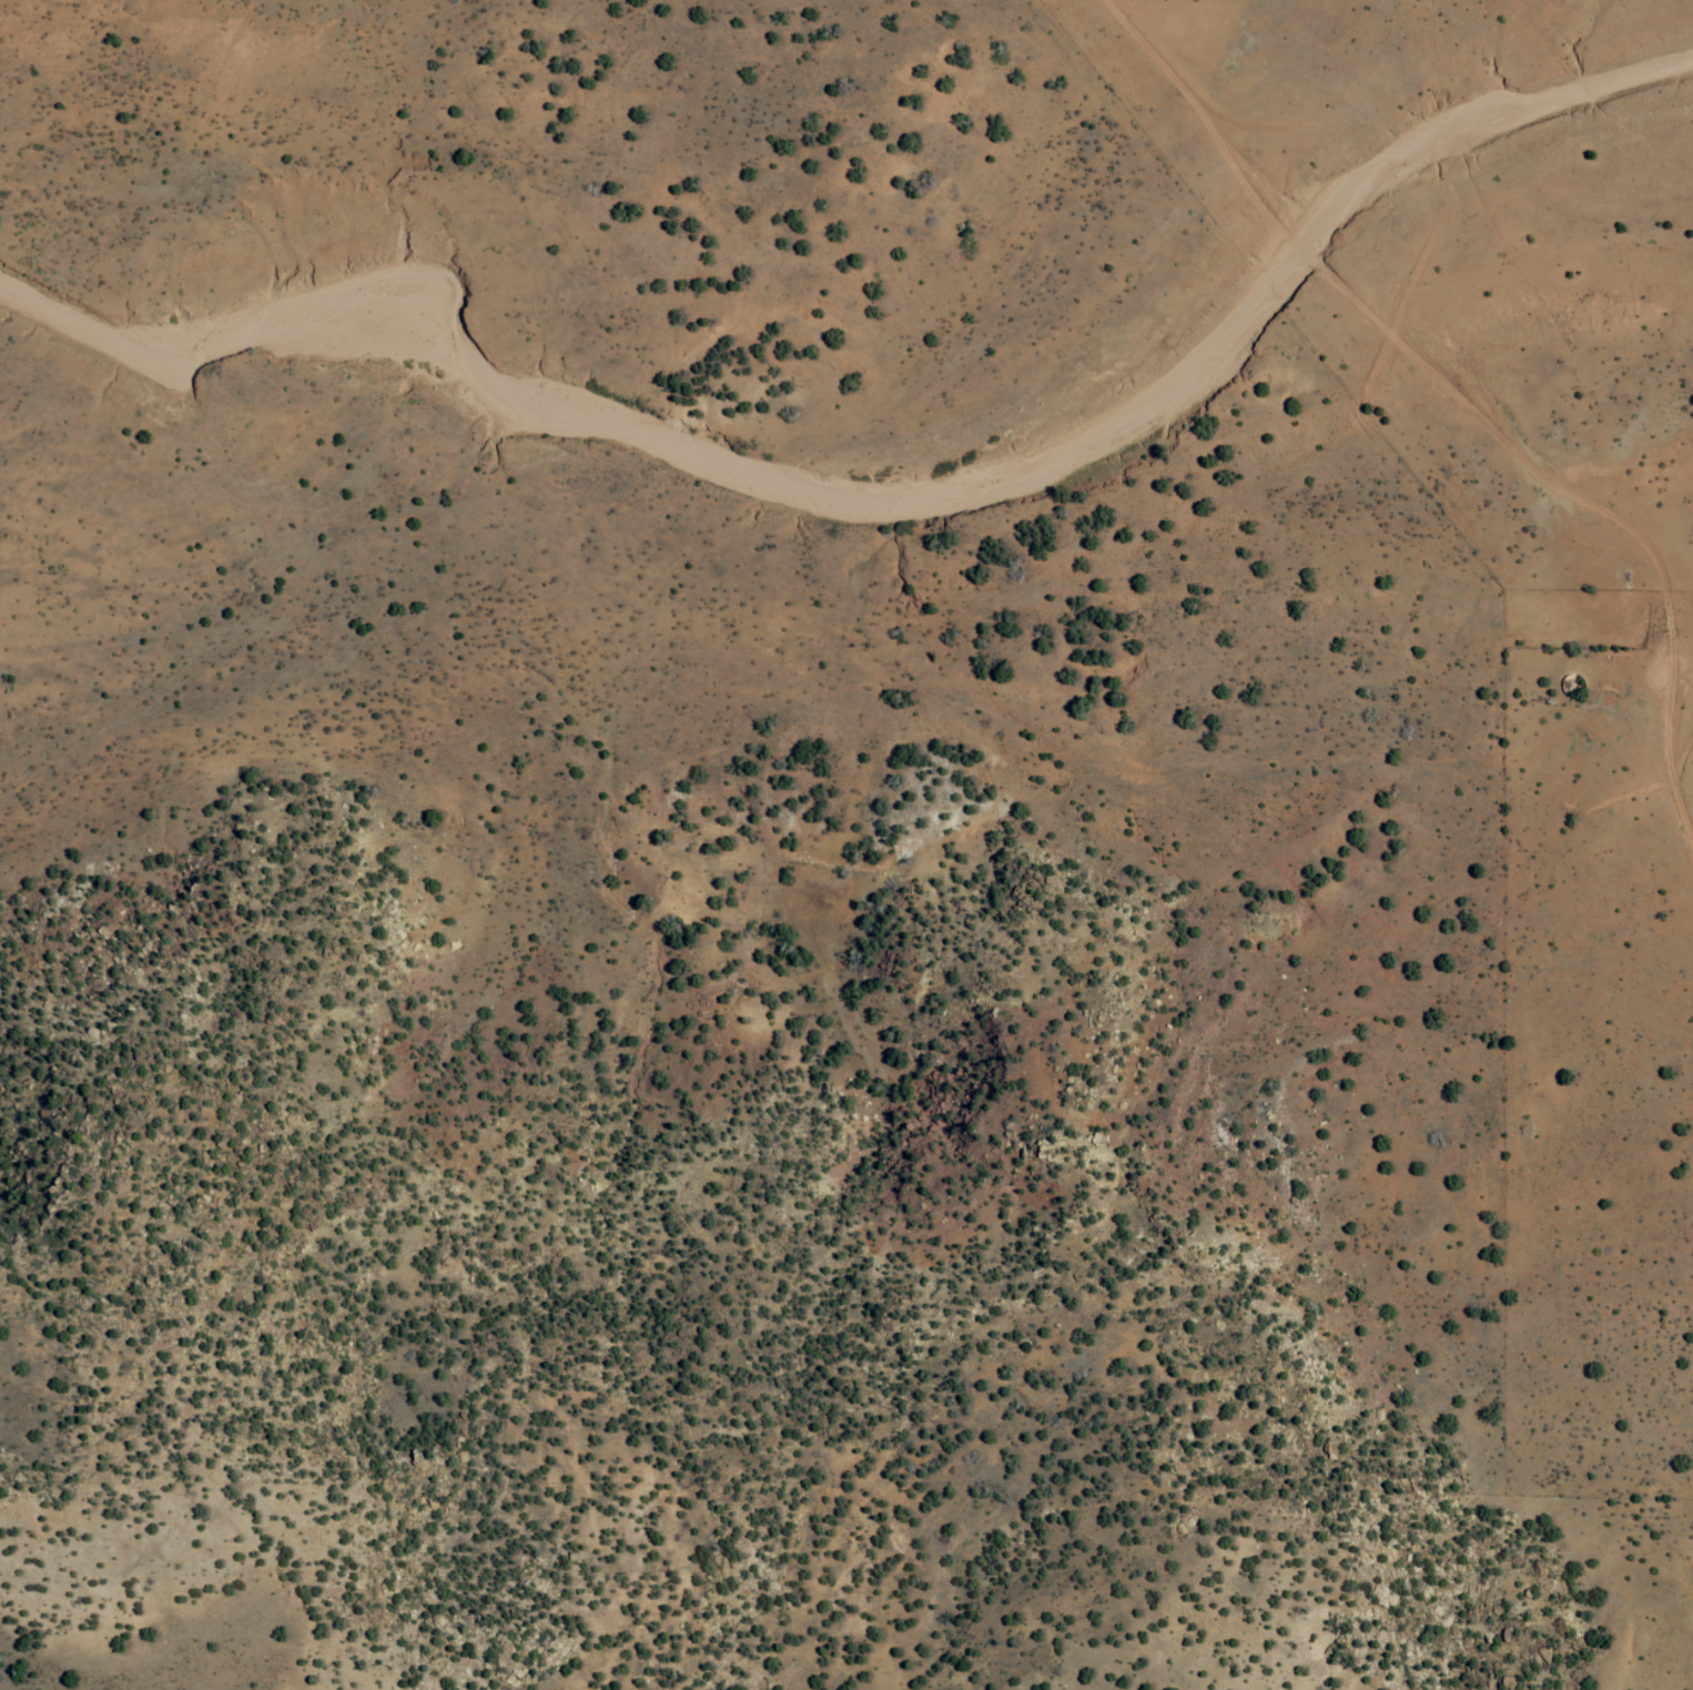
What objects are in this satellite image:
road: (1521, 418)

